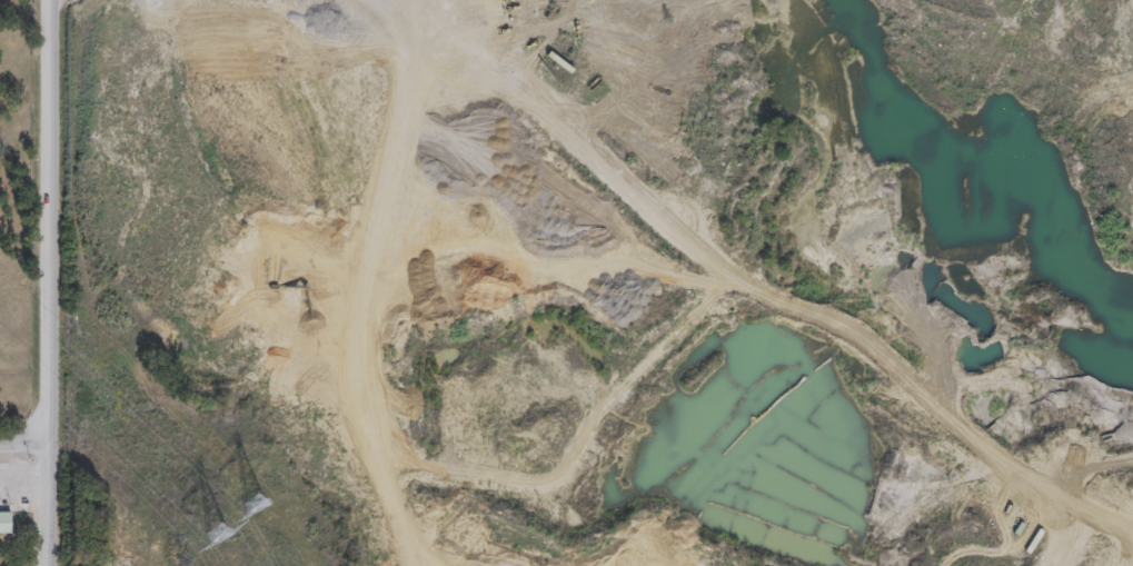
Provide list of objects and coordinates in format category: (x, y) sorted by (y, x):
road: (455, 7)
road: (51, 282)
road: (758, 288)
road: (26, 441)
building: (3, 523)
power tower: (213, 528)

